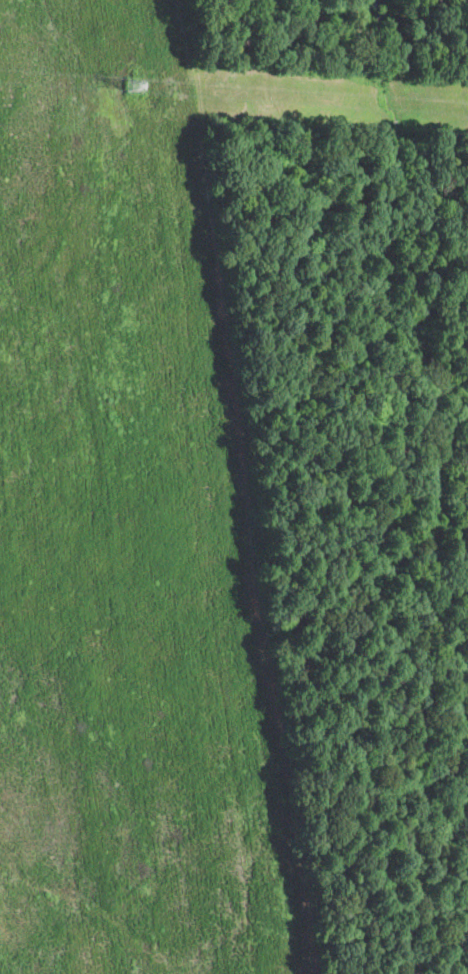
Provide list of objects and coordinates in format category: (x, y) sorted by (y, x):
power tower: (129, 87)

